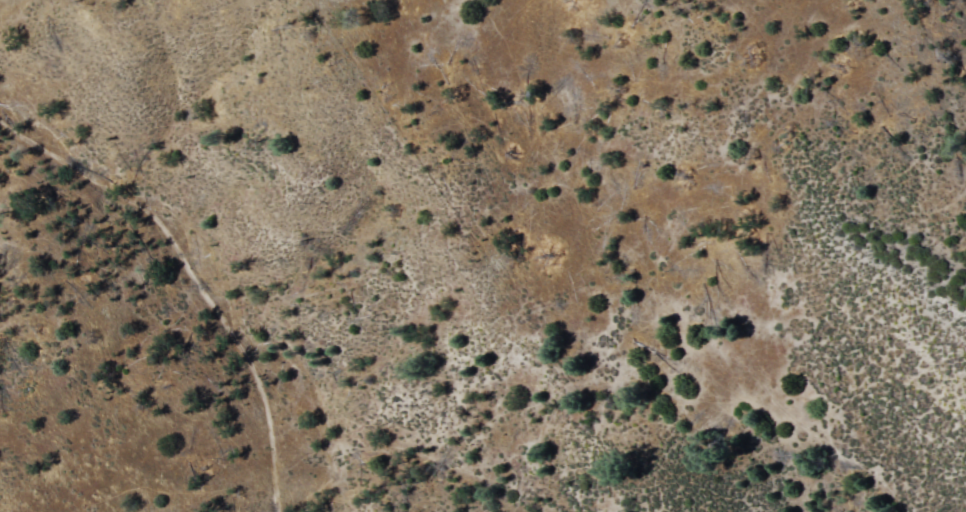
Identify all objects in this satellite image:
road: (195, 280)

